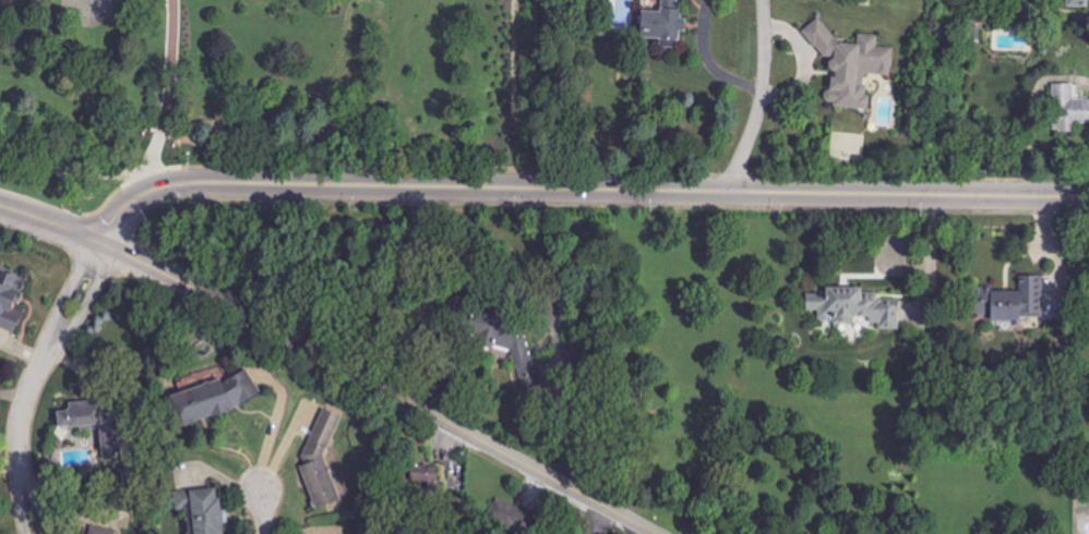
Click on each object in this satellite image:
building: (1077, 2)
building: (650, 4)
building: (662, 23)
building: (850, 64)
road: (761, 98)
road: (167, 102)
building: (1067, 108)
road: (1027, 111)
road: (583, 189)
road: (52, 226)
building: (10, 298)
building: (1012, 300)
building: (853, 306)
road: (549, 313)
building: (504, 344)
road: (32, 381)
road: (380, 388)
building: (213, 398)
building: (91, 426)
building: (320, 461)
building: (424, 474)
building: (202, 509)
road: (262, 509)
building: (511, 517)
road: (595, 519)
building: (104, 530)

